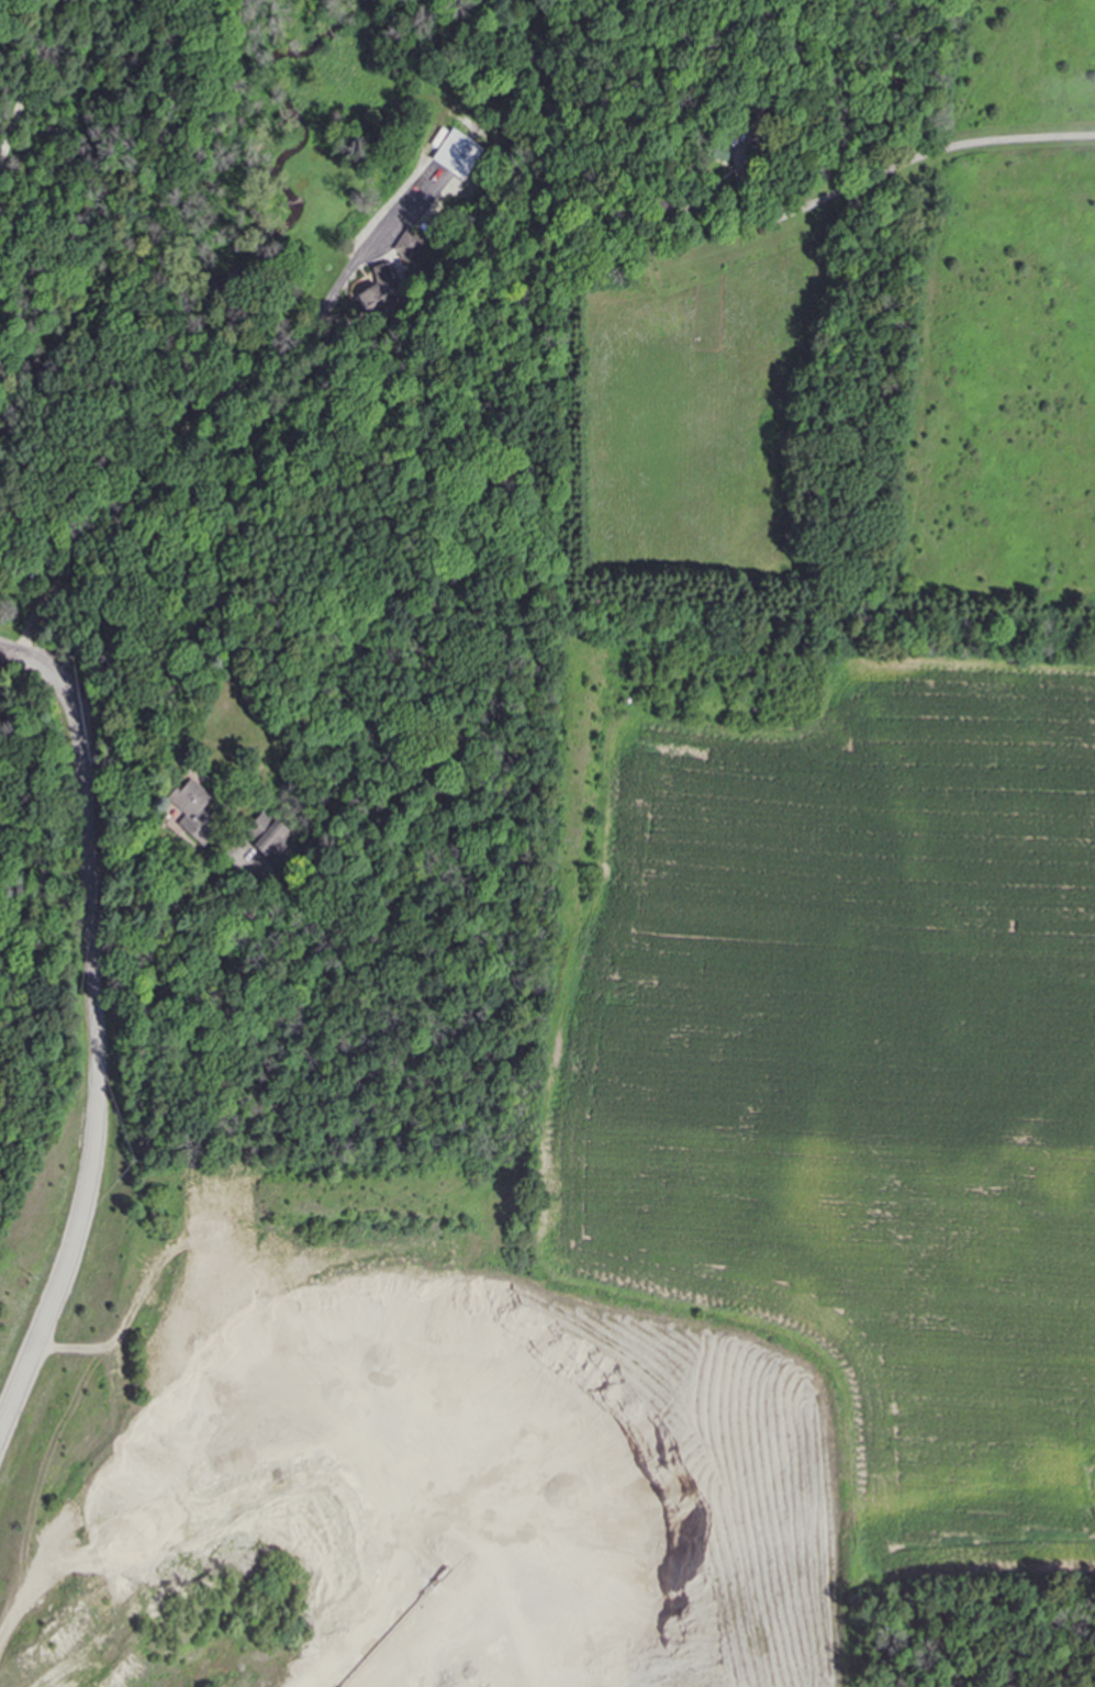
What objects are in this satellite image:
road: (24, 77)
road: (928, 149)
building: (457, 154)
road: (742, 190)
building: (409, 246)
building: (379, 290)
river: (107, 361)
road: (190, 418)
road: (2, 656)
building: (192, 811)
road: (167, 900)
road: (99, 1029)
quarry: (412, 1449)

